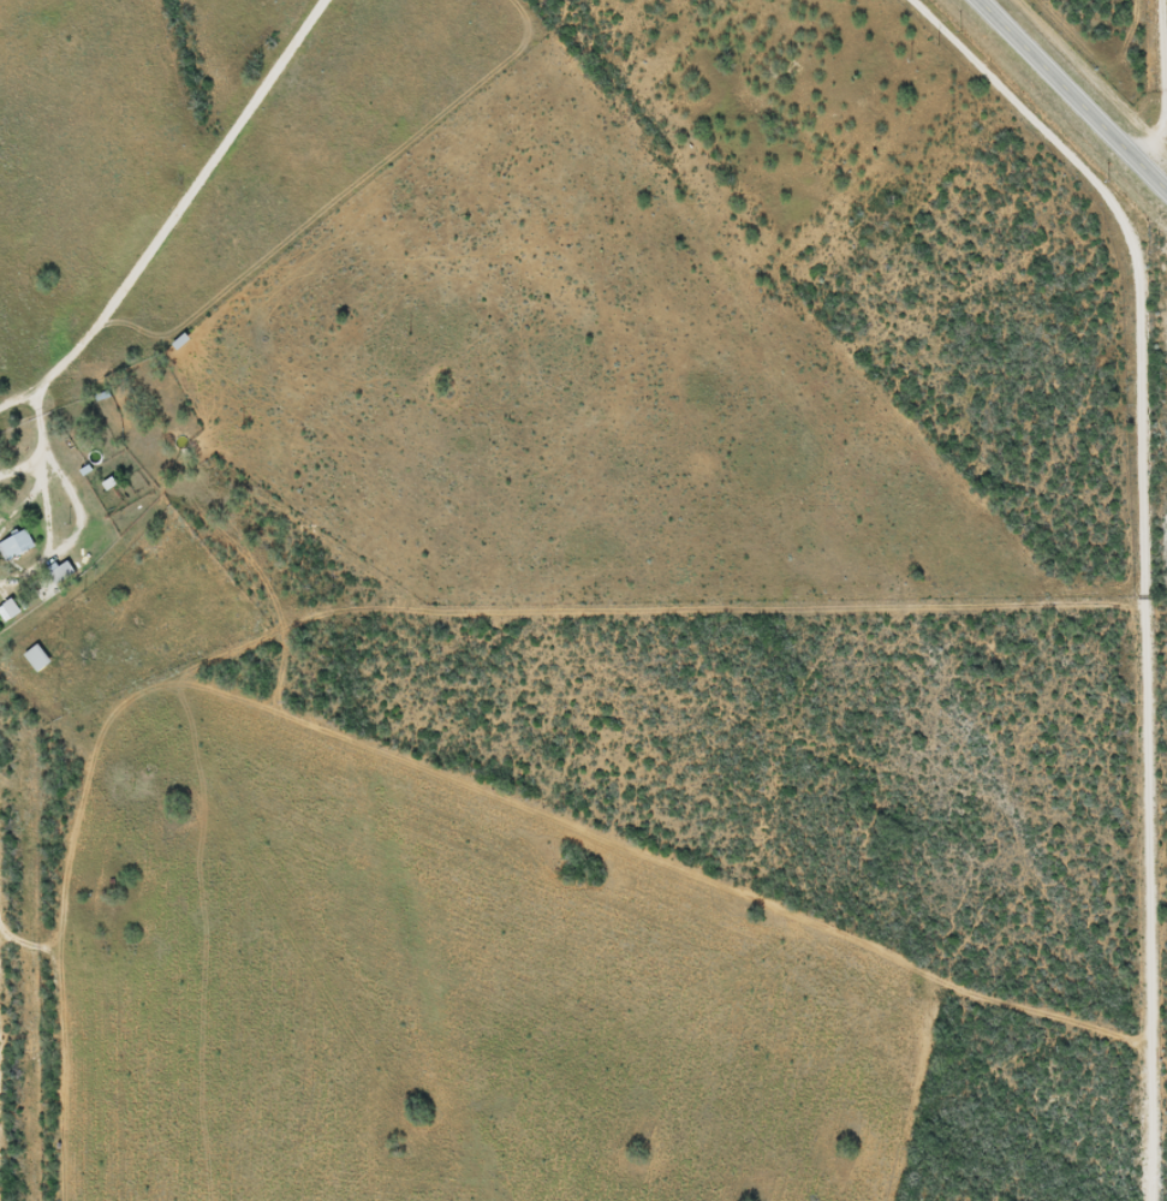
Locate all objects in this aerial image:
road: (1068, 102)
road: (177, 245)
building: (14, 543)
building: (34, 658)
road: (40, 946)

